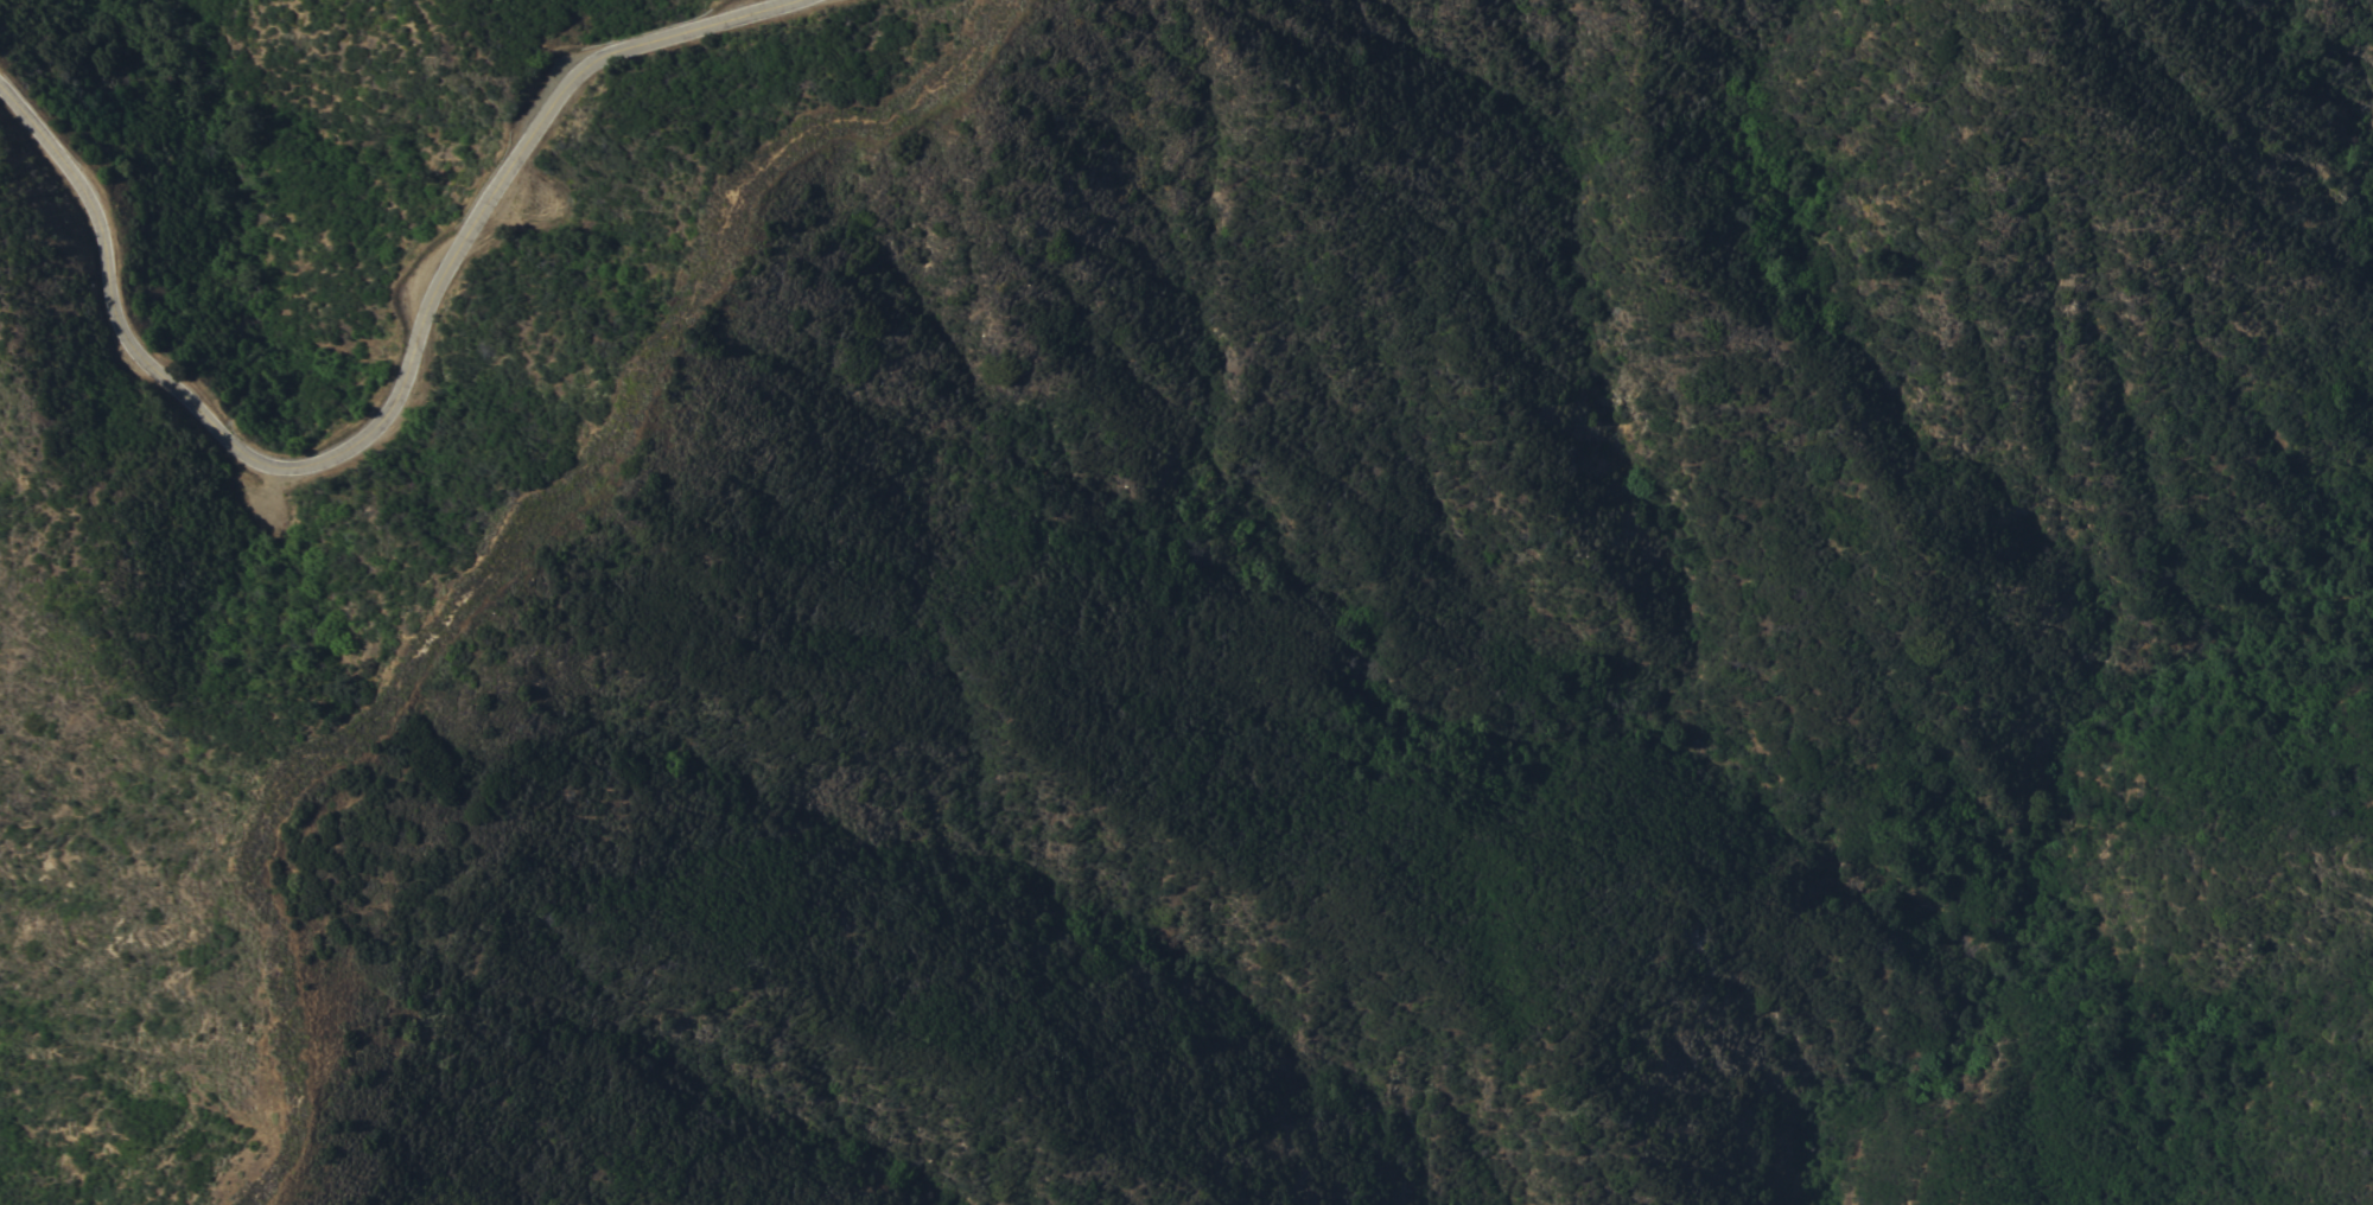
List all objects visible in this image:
road: (388, 409)
road: (532, 542)

